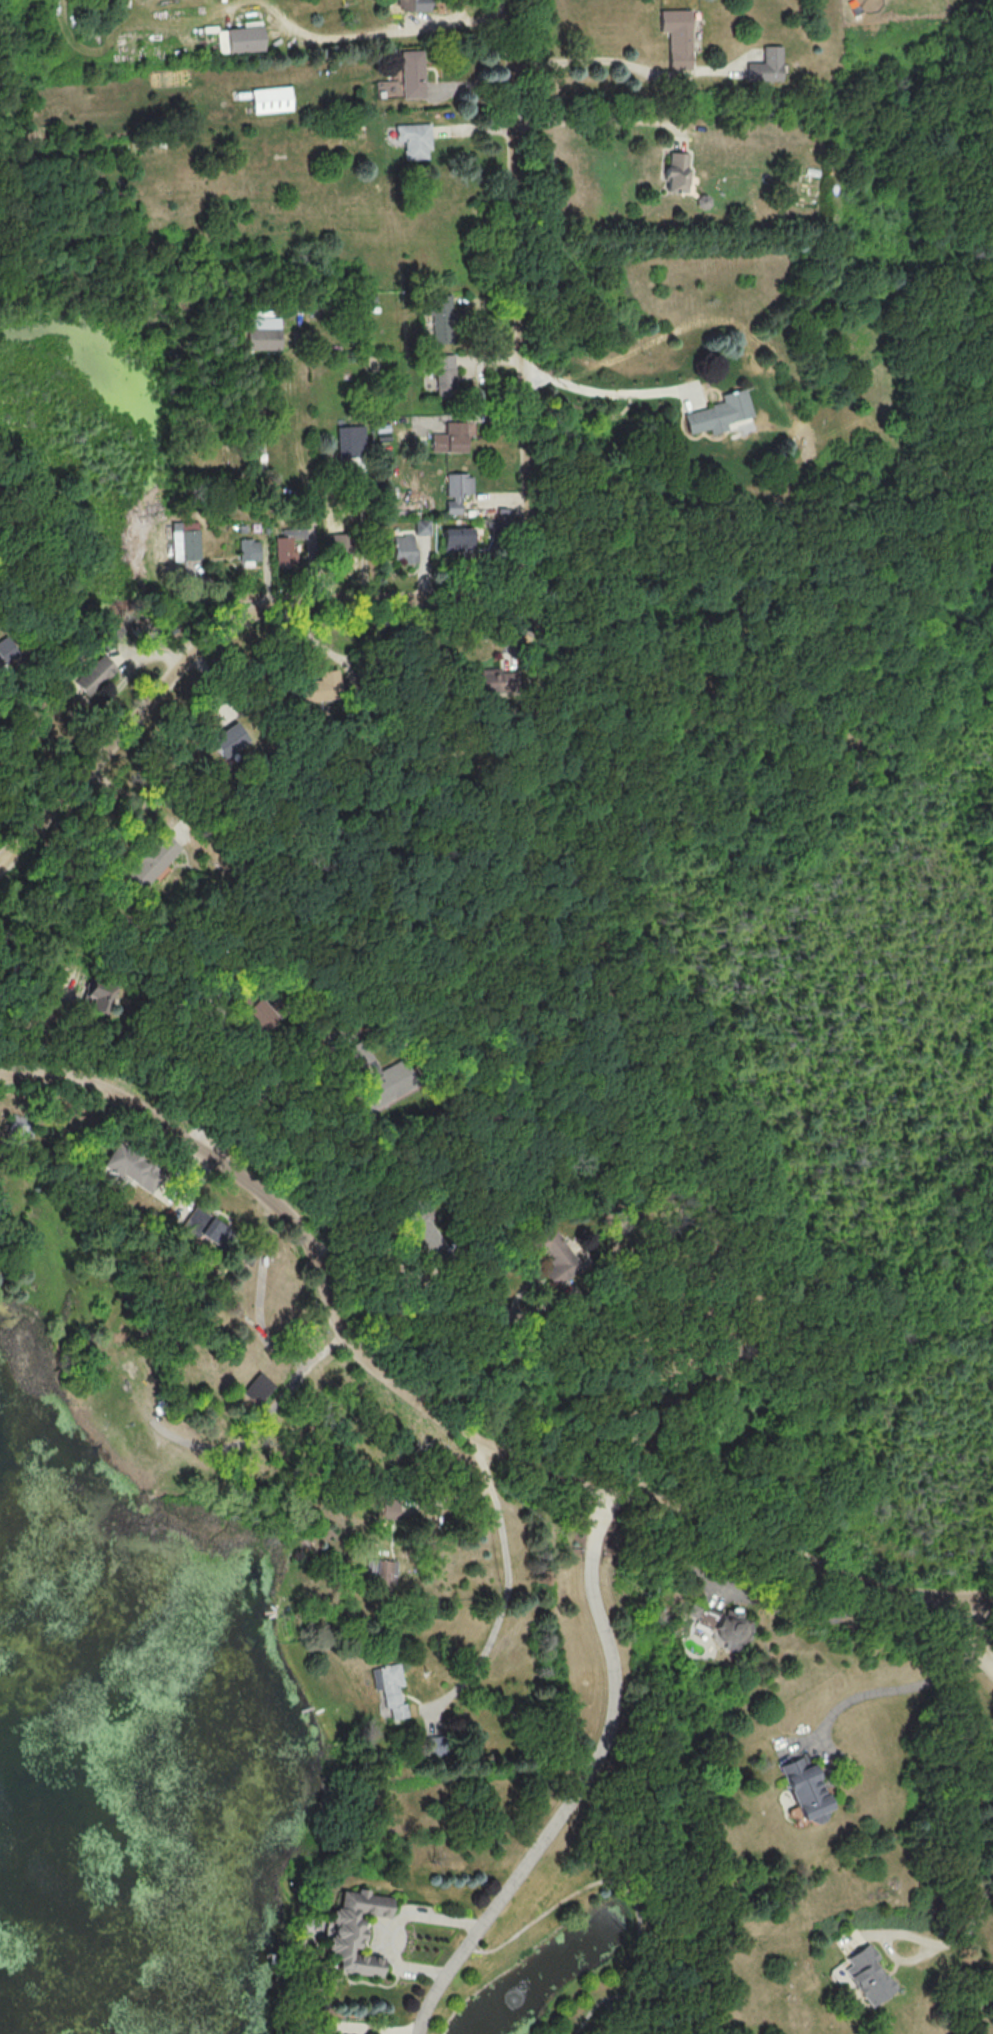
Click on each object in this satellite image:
building: (413, 4)
road: (382, 28)
building: (678, 35)
building: (245, 38)
road: (597, 63)
building: (766, 64)
building: (412, 73)
building: (271, 99)
road: (596, 120)
building: (415, 139)
building: (675, 171)
building: (368, 297)
building: (439, 316)
building: (264, 332)
building: (443, 373)
road: (606, 391)
building: (721, 414)
building: (451, 437)
building: (351, 440)
building: (457, 489)
building: (243, 527)
building: (422, 527)
building: (267, 529)
building: (457, 539)
building: (188, 541)
building: (336, 544)
building: (405, 549)
building: (249, 551)
building: (284, 551)
road: (498, 596)
building: (6, 652)
building: (95, 674)
building: (494, 681)
building: (322, 686)
building: (229, 740)
building: (152, 859)
building: (101, 995)
building: (256, 1007)
building: (374, 1074)
road: (254, 1106)
building: (23, 1124)
building: (133, 1168)
building: (423, 1228)
building: (215, 1233)
building: (553, 1253)
road: (499, 1367)
building: (256, 1388)
road: (439, 1420)
building: (392, 1506)
building: (379, 1577)
road: (510, 1584)
building: (721, 1624)
road: (974, 1636)
building: (391, 1688)
road: (878, 1690)
road: (584, 1783)
building: (807, 1789)
building: (354, 1931)
road: (939, 1945)
building: (867, 1972)
building: (332, 2033)

